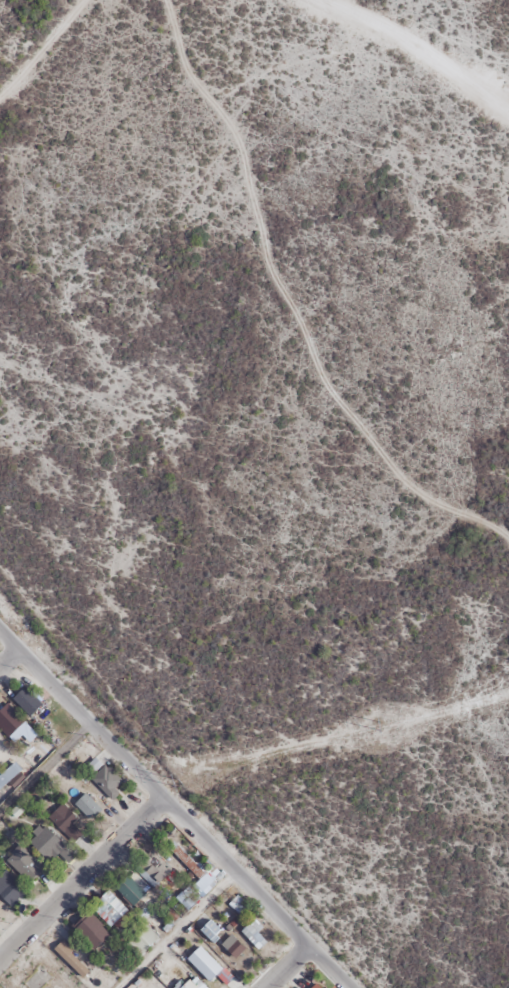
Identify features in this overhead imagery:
road: (38, 42)
road: (418, 47)
road: (1, 644)
building: (25, 702)
building: (10, 723)
power tower: (362, 728)
road: (337, 733)
road: (42, 770)
building: (8, 773)
power tower: (177, 781)
building: (105, 782)
building: (86, 806)
road: (165, 814)
building: (64, 822)
building: (44, 843)
road: (71, 861)
building: (23, 865)
building: (153, 869)
building: (130, 888)
building: (9, 889)
building: (108, 908)
building: (90, 931)
road: (173, 934)
building: (252, 934)
building: (231, 946)
building: (69, 960)
building: (202, 964)
road: (262, 964)
building: (191, 983)
building: (314, 986)

